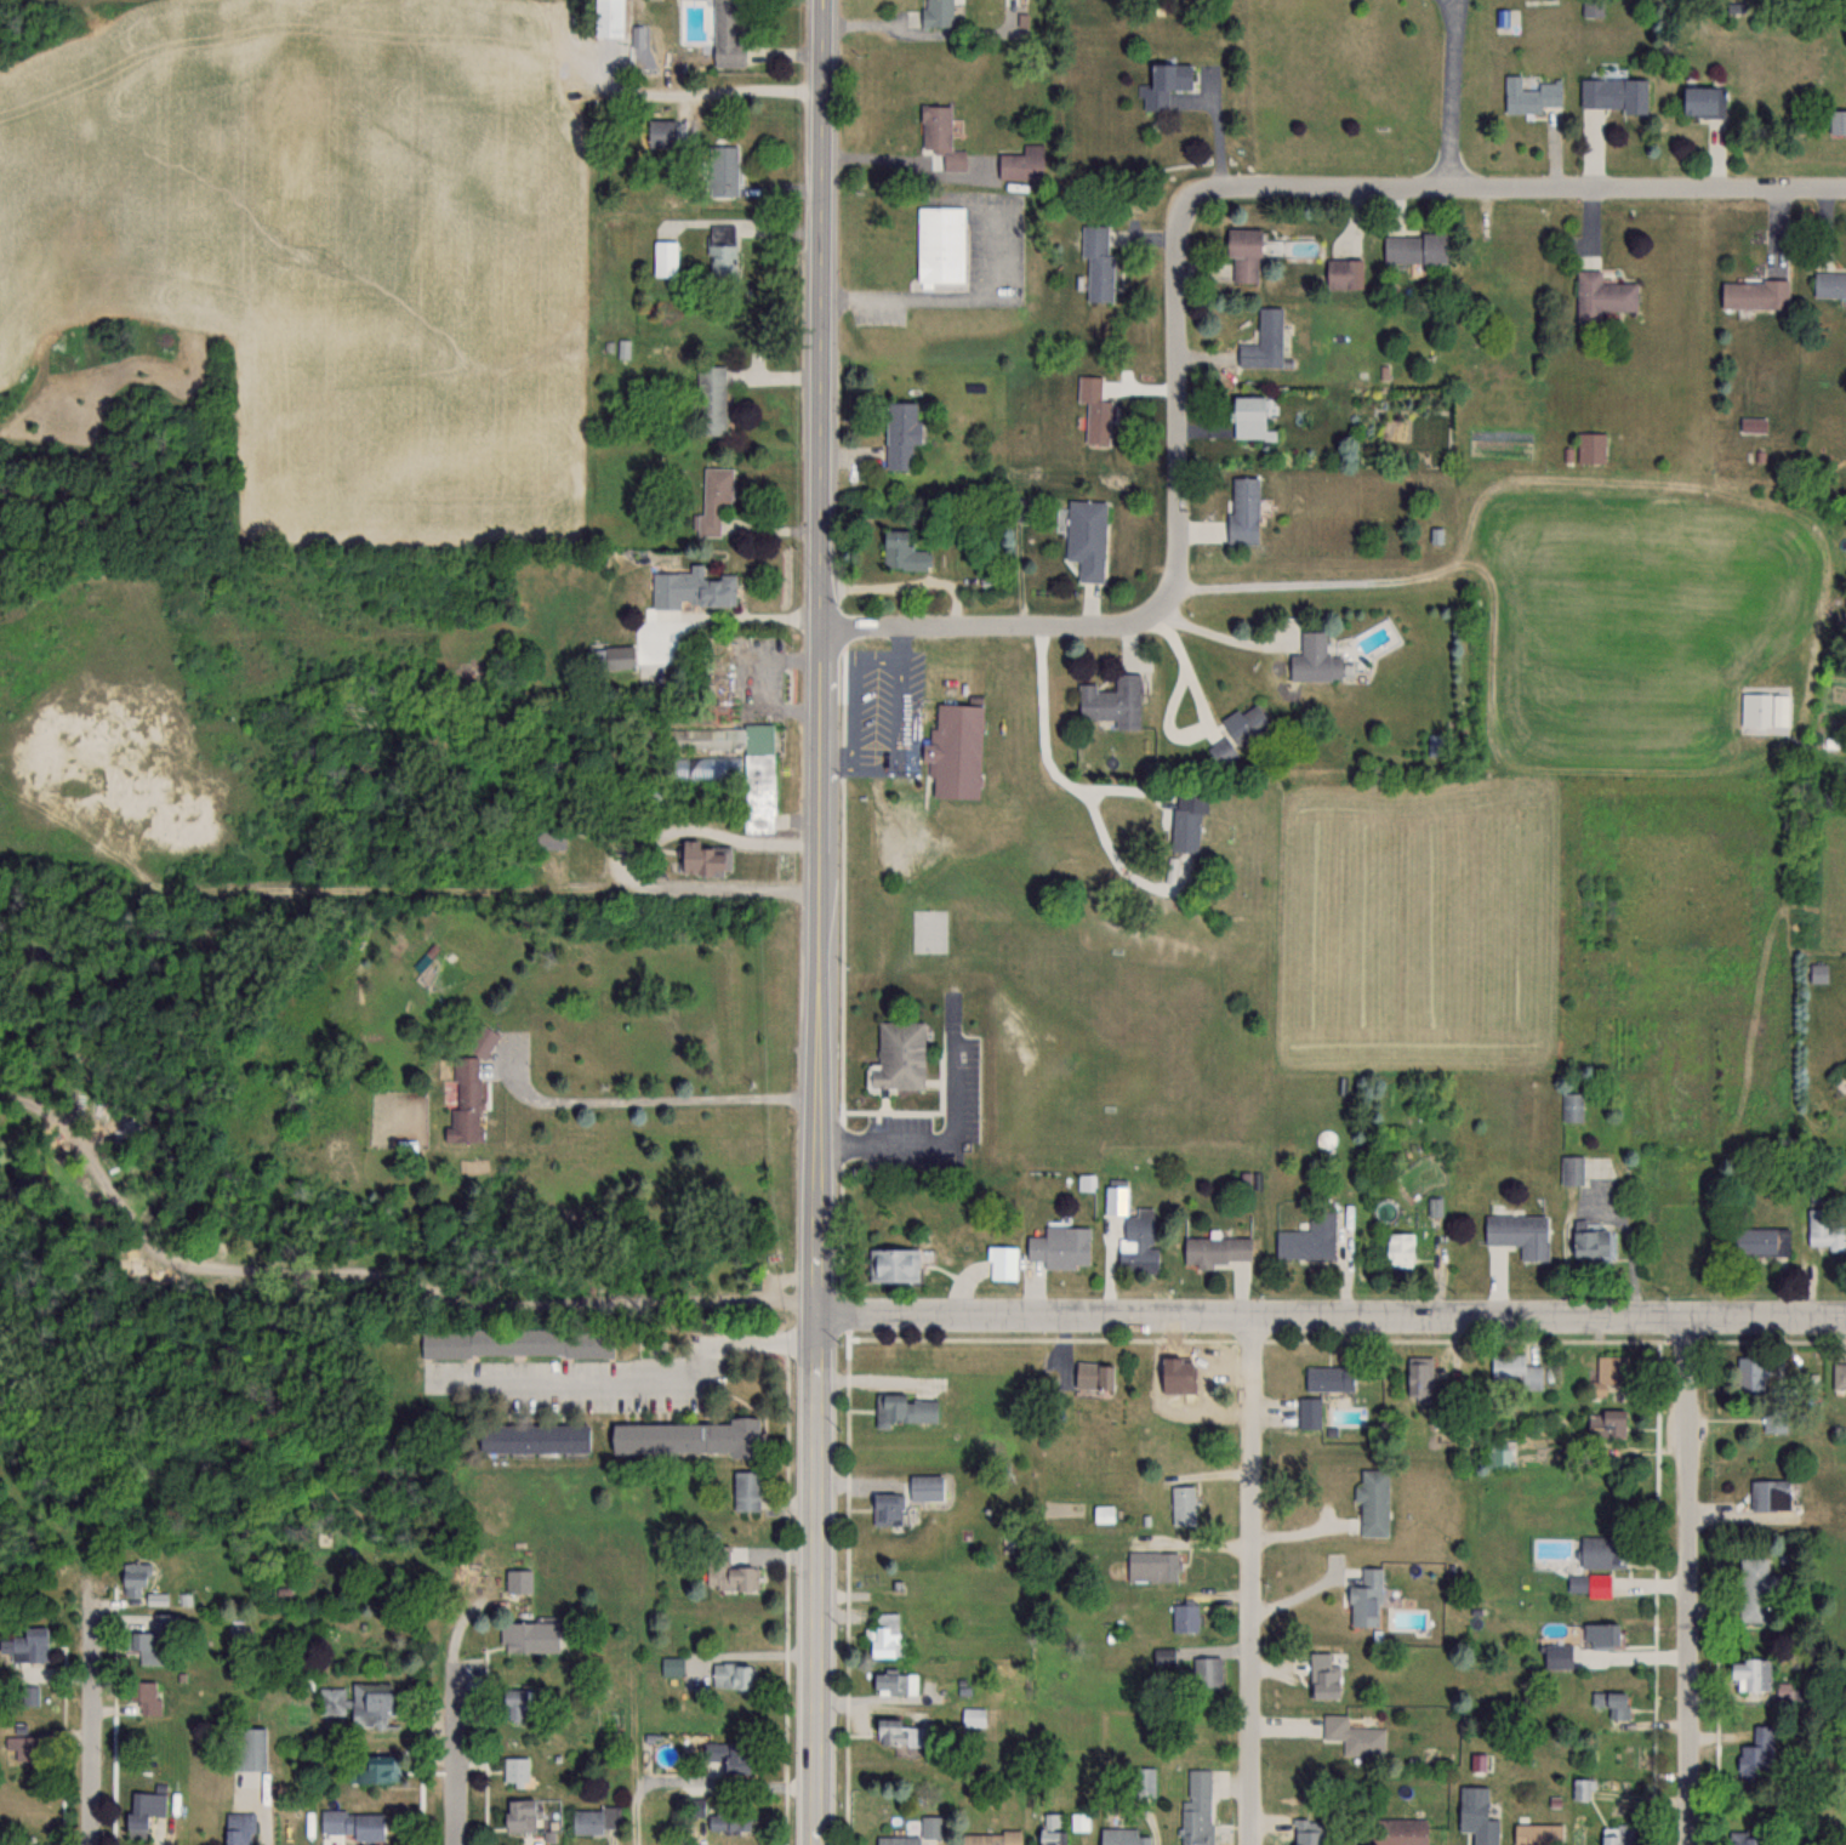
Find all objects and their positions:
building: (1588, 8)
building: (938, 13)
building: (606, 18)
building: (725, 33)
building: (1164, 84)
road: (1449, 92)
building: (1611, 95)
building: (1531, 96)
building: (1697, 101)
building: (1836, 121)
building: (935, 126)
building: (657, 131)
building: (722, 171)
building: (940, 244)
road: (1179, 249)
building: (1413, 249)
building: (1242, 254)
building: (665, 258)
building: (722, 260)
building: (1096, 263)
building: (1343, 274)
building: (1829, 283)
building: (1753, 294)
building: (1600, 296)
building: (1263, 341)
building: (710, 400)
building: (1094, 409)
building: (1246, 416)
building: (899, 434)
building: (1590, 446)
building: (713, 499)
building: (1016, 508)
building: (1242, 509)
building: (1084, 536)
building: (899, 551)
building: (697, 587)
road: (1225, 634)
building: (613, 656)
building: (1312, 659)
building: (1111, 701)
road: (1207, 719)
building: (951, 723)
building: (1246, 724)
road: (1046, 741)
building: (719, 751)
building: (1220, 751)
building: (1185, 819)
building: (548, 837)
building: (701, 858)
road: (821, 922)
building: (896, 1055)
building: (468, 1088)
road: (668, 1098)
building: (1572, 1106)
building: (1571, 1169)
building: (1823, 1229)
building: (1132, 1231)
building: (1516, 1232)
building: (1307, 1238)
building: (1760, 1240)
building: (1590, 1242)
building: (1059, 1246)
building: (1214, 1251)
building: (1396, 1251)
building: (1001, 1262)
building: (891, 1264)
road: (1333, 1317)
building: (514, 1343)
building: (1515, 1369)
building: (1749, 1369)
building: (1092, 1374)
building: (1839, 1374)
building: (1417, 1377)
road: (651, 1378)
building: (1328, 1378)
building: (1607, 1378)
building: (905, 1408)
building: (1309, 1413)
building: (1606, 1424)
building: (680, 1437)
building: (530, 1439)
building: (923, 1486)
building: (745, 1490)
building: (1768, 1494)
building: (1372, 1502)
building: (1181, 1504)
building: (885, 1509)
building: (1601, 1551)
building: (1151, 1566)
building: (728, 1571)
road: (1690, 1579)
building: (130, 1581)
building: (517, 1581)
road: (1254, 1582)
building: (1588, 1584)
building: (1751, 1589)
building: (1366, 1599)
building: (1185, 1617)
building: (883, 1634)
building: (1600, 1634)
building: (525, 1636)
building: (27, 1645)
building: (144, 1646)
building: (1164, 1656)
building: (1556, 1656)
building: (1206, 1672)
building: (1748, 1673)
building: (733, 1676)
building: (1322, 1676)
building: (893, 1681)
building: (29, 1696)
building: (144, 1696)
building: (359, 1704)
building: (512, 1706)
building: (1612, 1708)
building: (973, 1716)
road: (457, 1733)
building: (899, 1733)
building: (1352, 1737)
road: (92, 1738)
building: (21, 1747)
building: (246, 1749)
building: (1755, 1752)
building: (728, 1758)
building: (369, 1770)
building: (514, 1771)
building: (1143, 1782)
building: (1582, 1789)
building: (1196, 1809)
building: (142, 1811)
building: (517, 1816)
building: (1475, 1816)
building: (727, 1817)
building: (594, 1820)
building: (354, 1826)
building: (930, 1826)
building: (238, 1828)
building: (1305, 1832)
building: (1397, 1832)
building: (1537, 1834)
building: (1050, 1835)
building: (1121, 1837)
building: (990, 1838)
building: (1611, 1838)
building: (1742, 1838)
building: (0, 1840)
building: (896, 1840)

